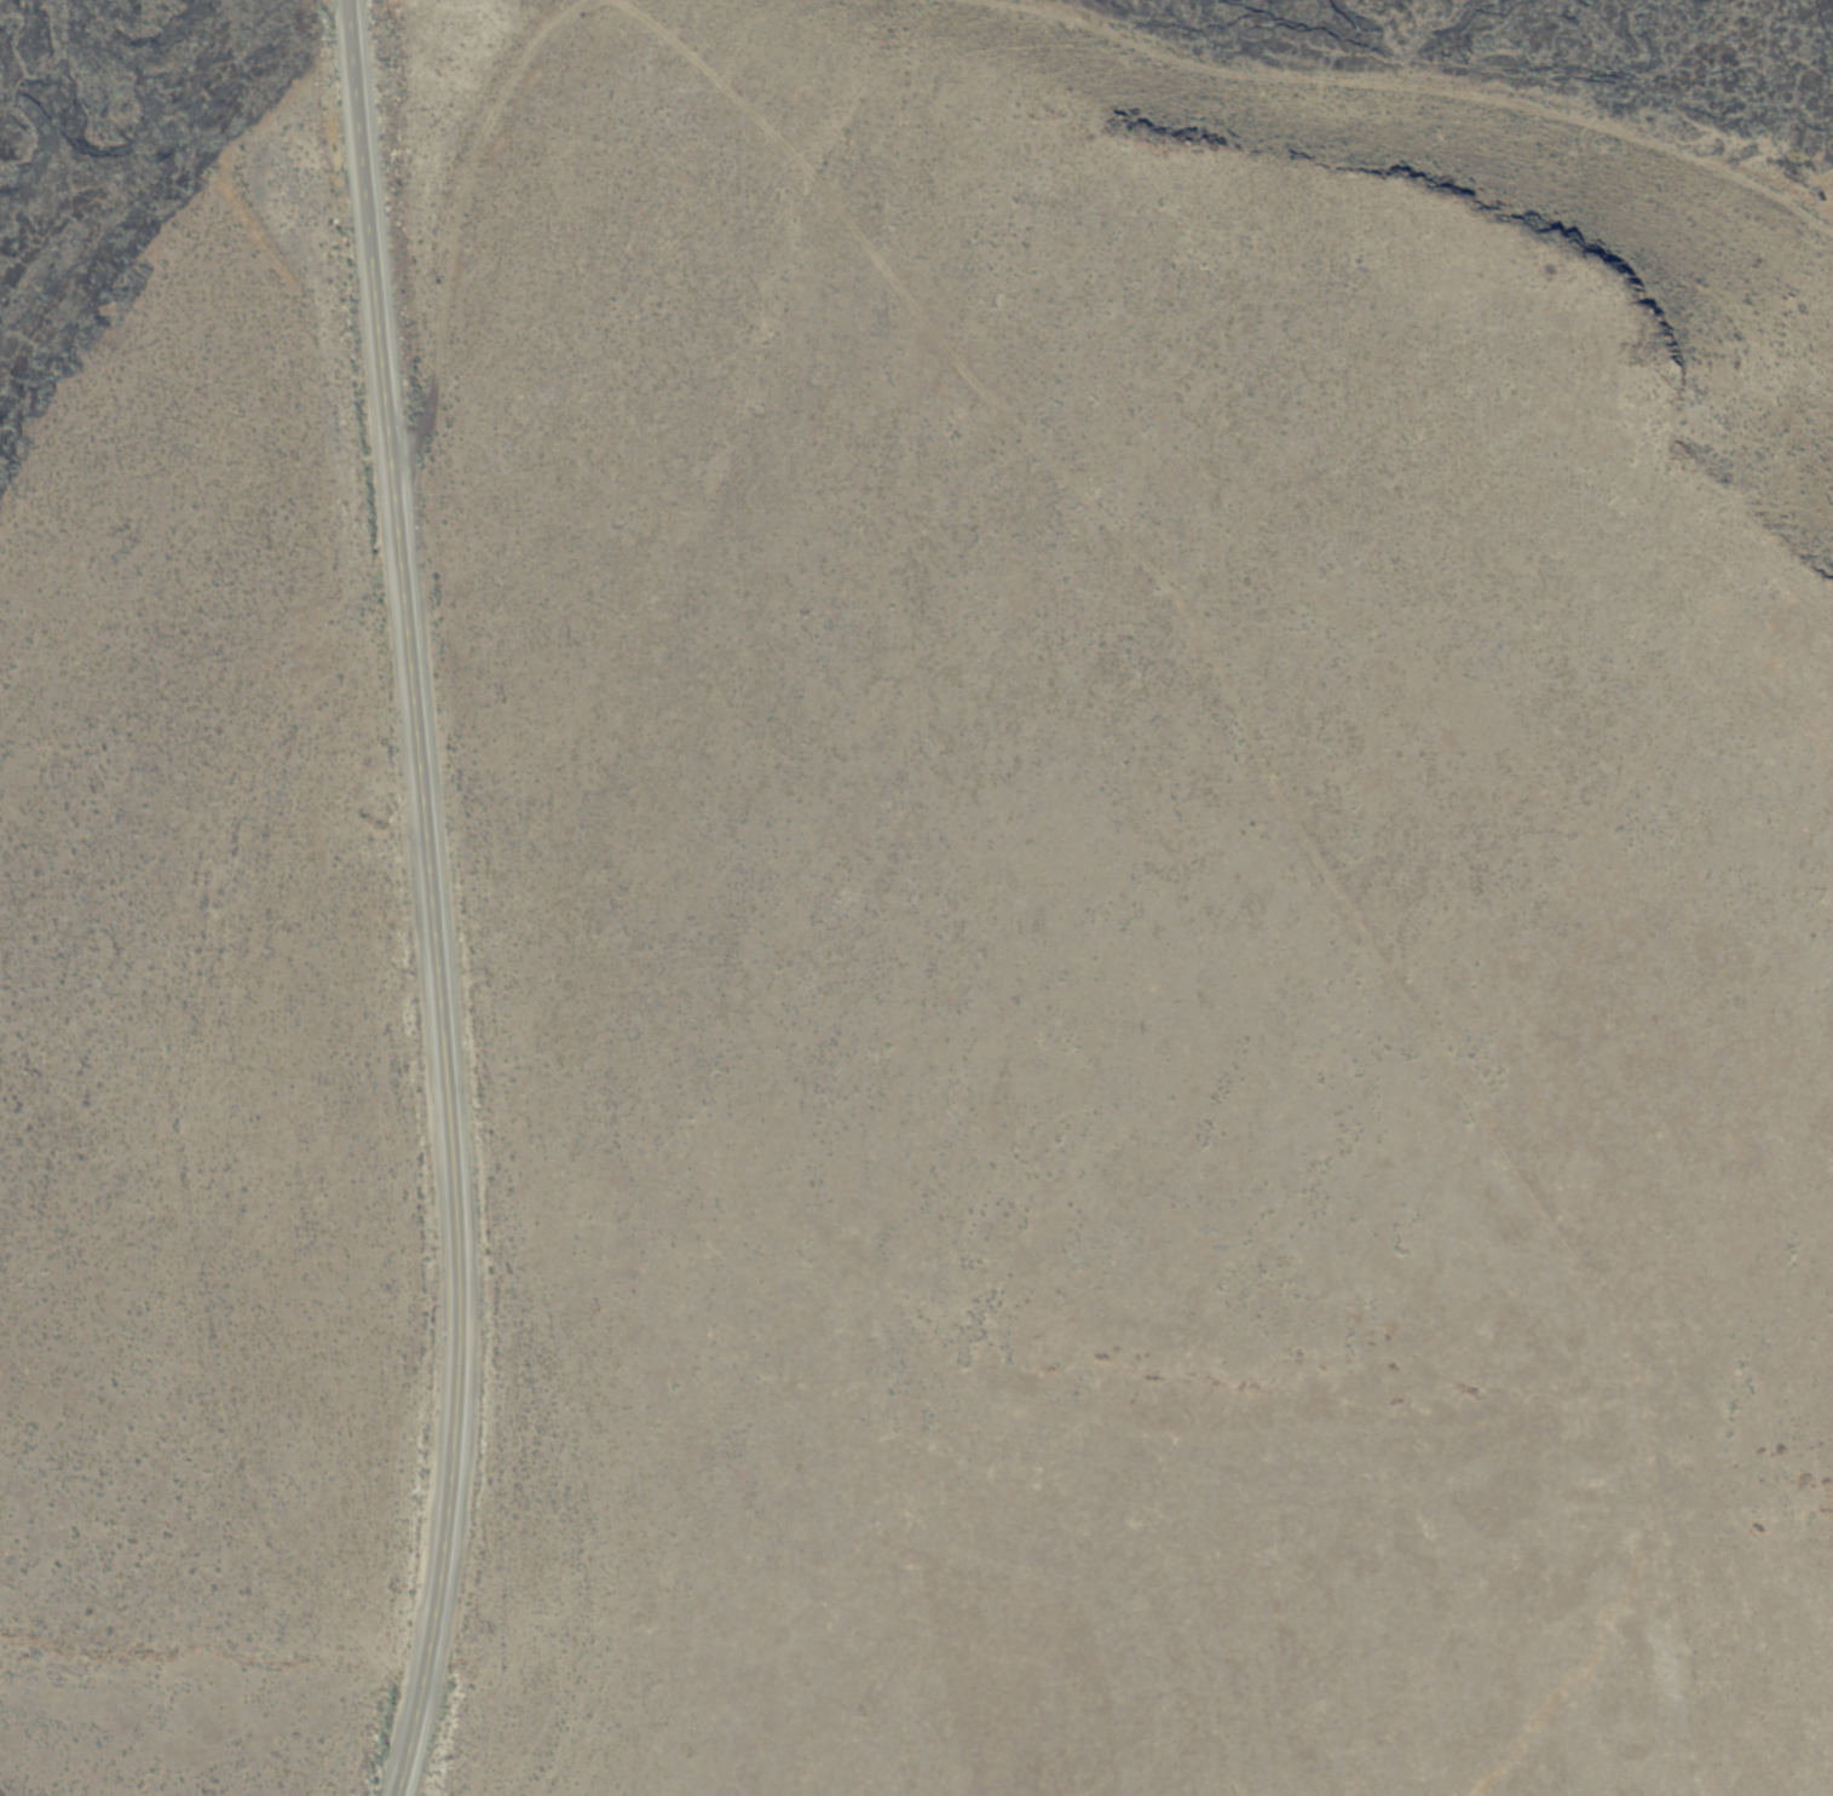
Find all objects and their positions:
road: (423, 898)

